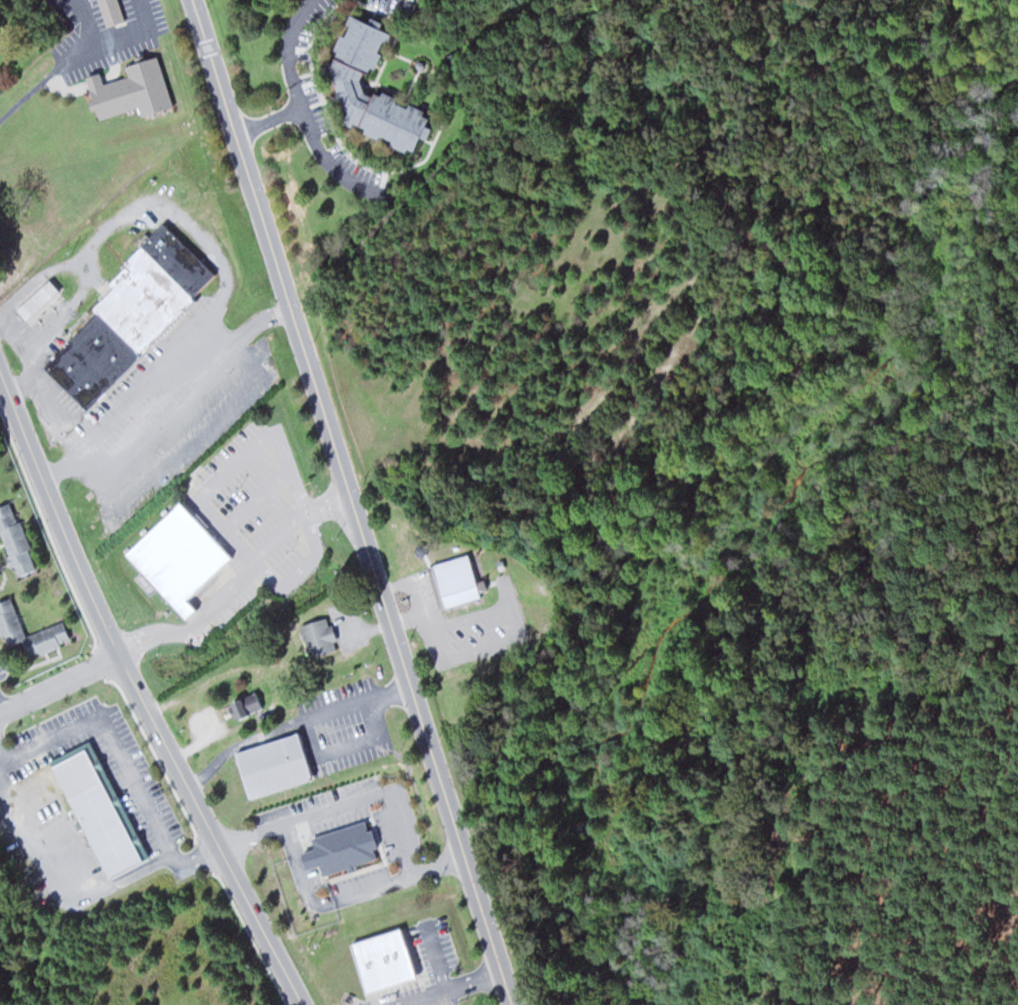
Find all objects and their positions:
building: (110, 12)
road: (288, 52)
building: (347, 83)
road: (266, 123)
road: (324, 159)
building: (35, 301)
building: (119, 329)
road: (1, 384)
road: (353, 502)
building: (14, 541)
building: (176, 556)
building: (455, 580)
building: (10, 627)
building: (317, 637)
building: (463, 646)
road: (59, 684)
road: (140, 696)
building: (245, 704)
road: (2, 706)
building: (272, 764)
road: (364, 795)
building: (97, 808)
road: (290, 839)
building: (341, 848)
road: (378, 885)
road: (305, 888)
road: (436, 955)
building: (382, 959)
road: (445, 988)

